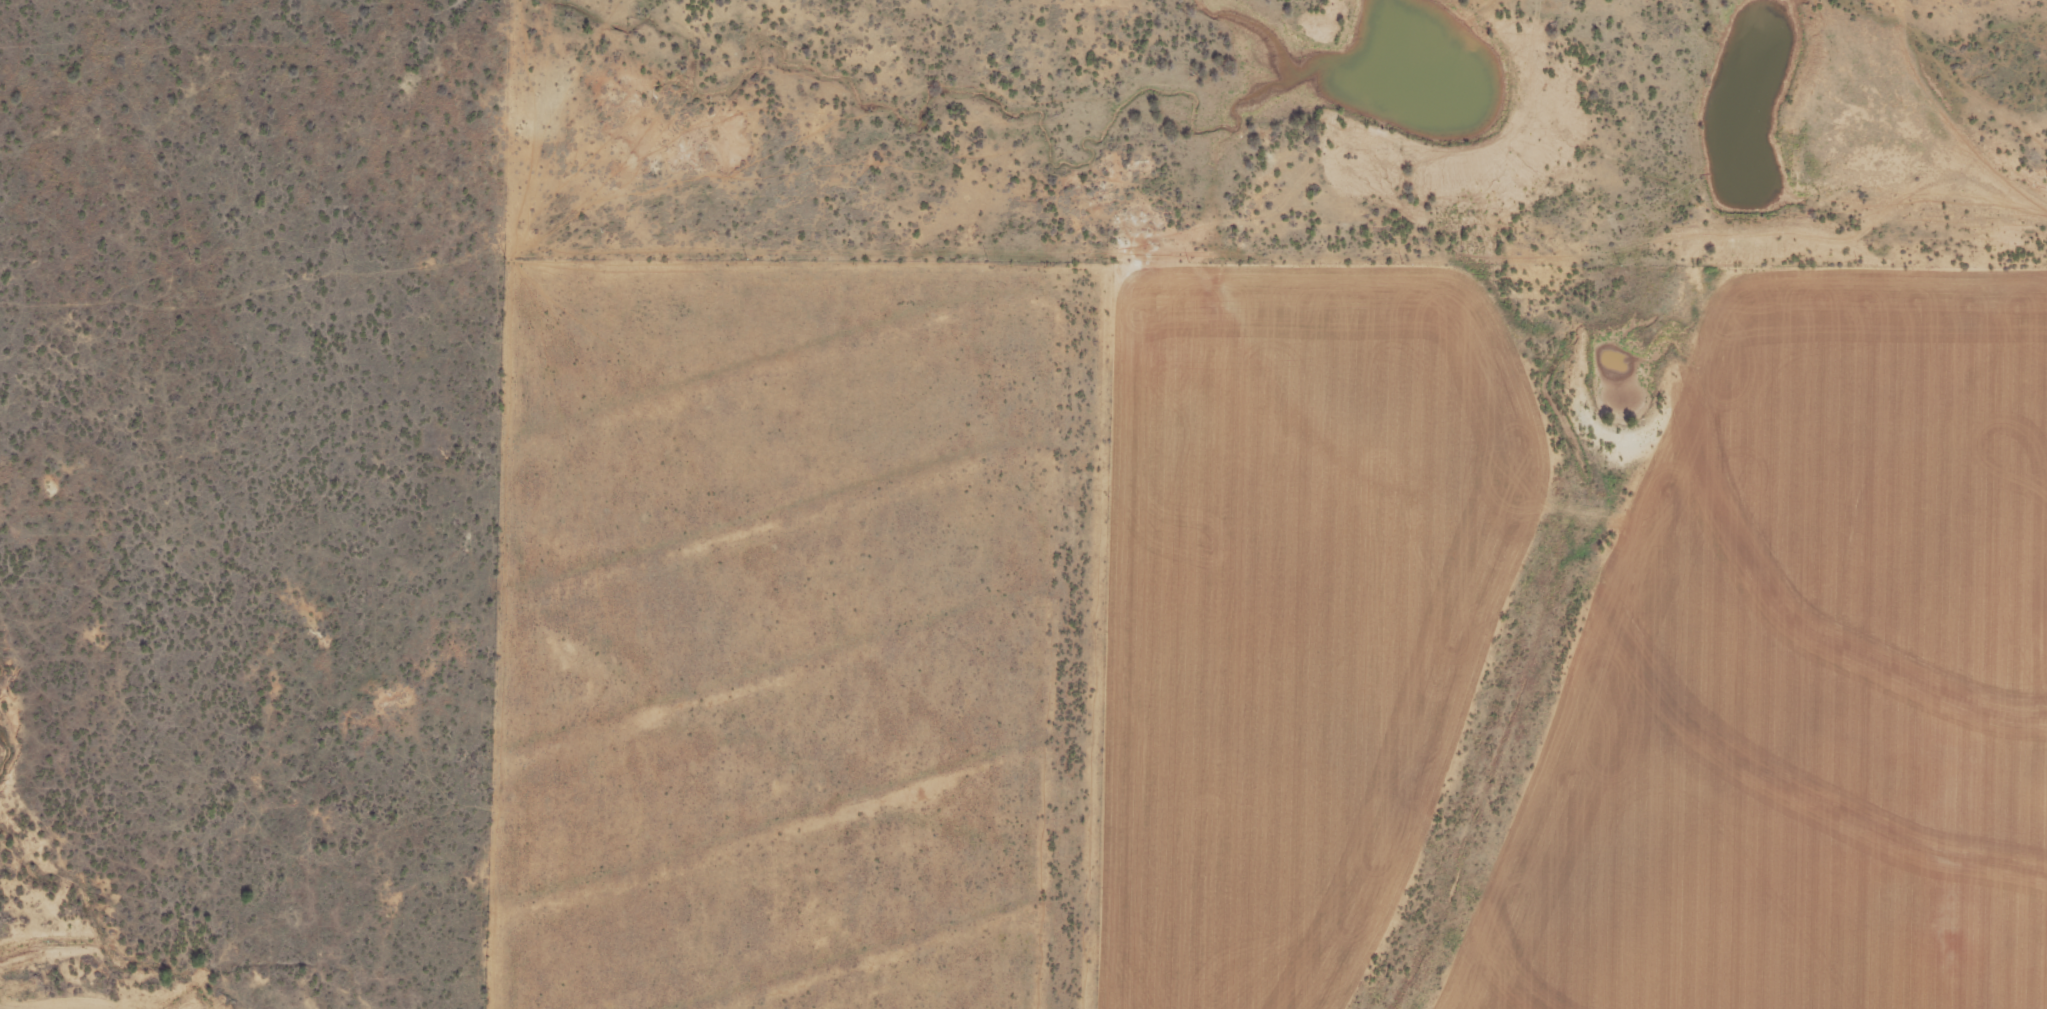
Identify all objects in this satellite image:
road: (1889, 64)

